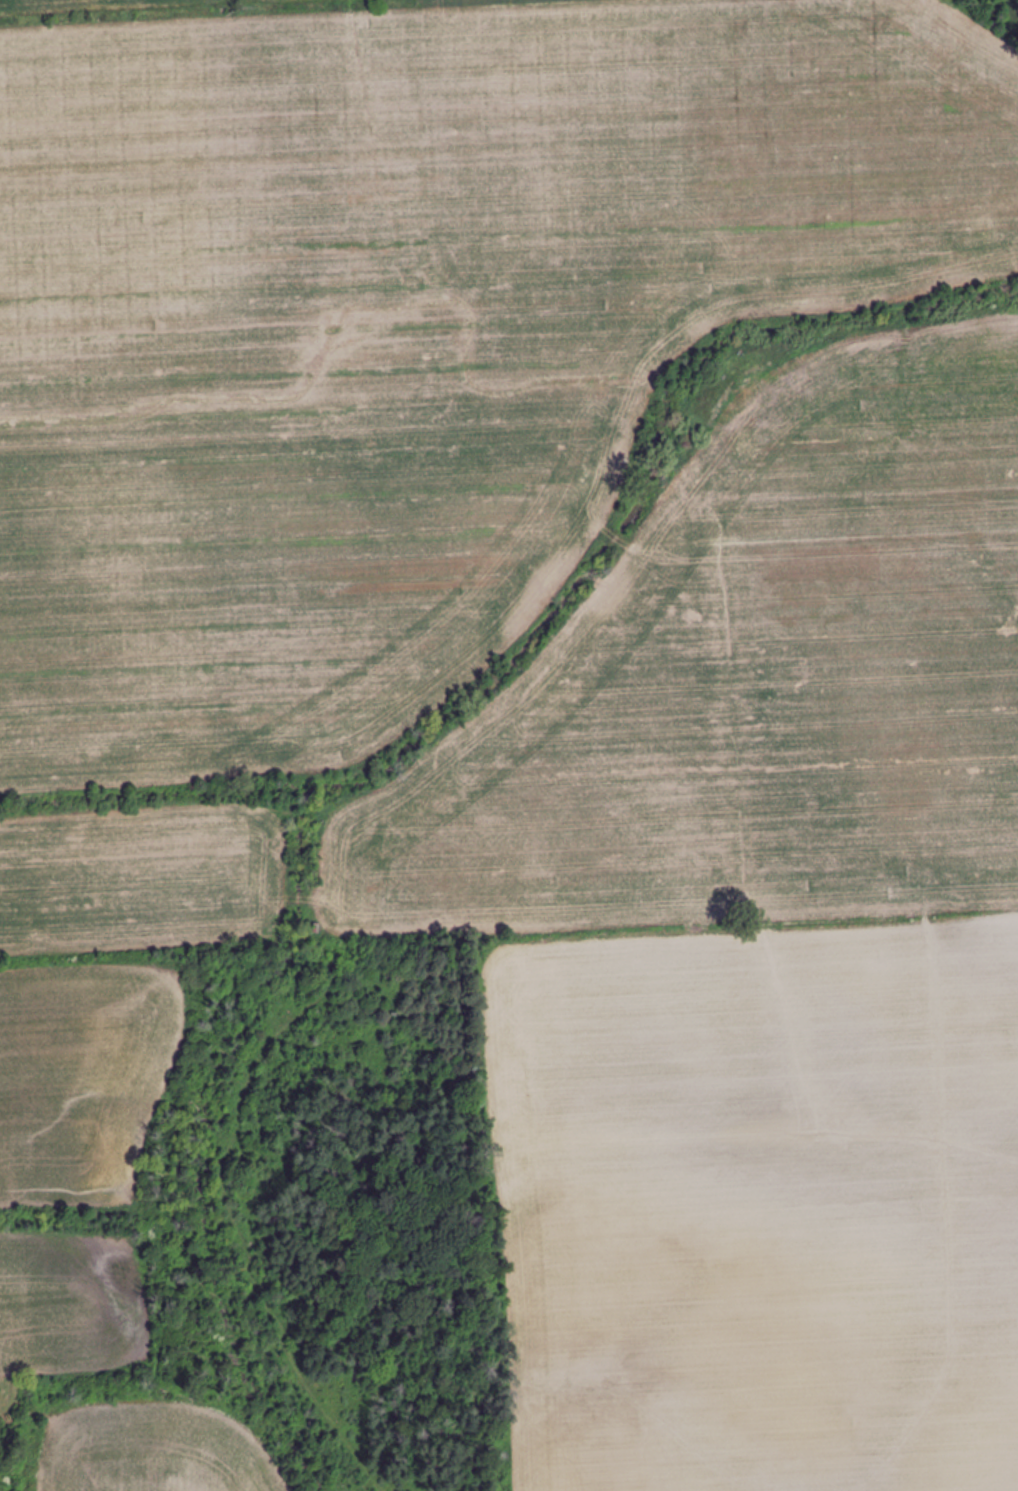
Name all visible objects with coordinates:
crop: (397, 317)

